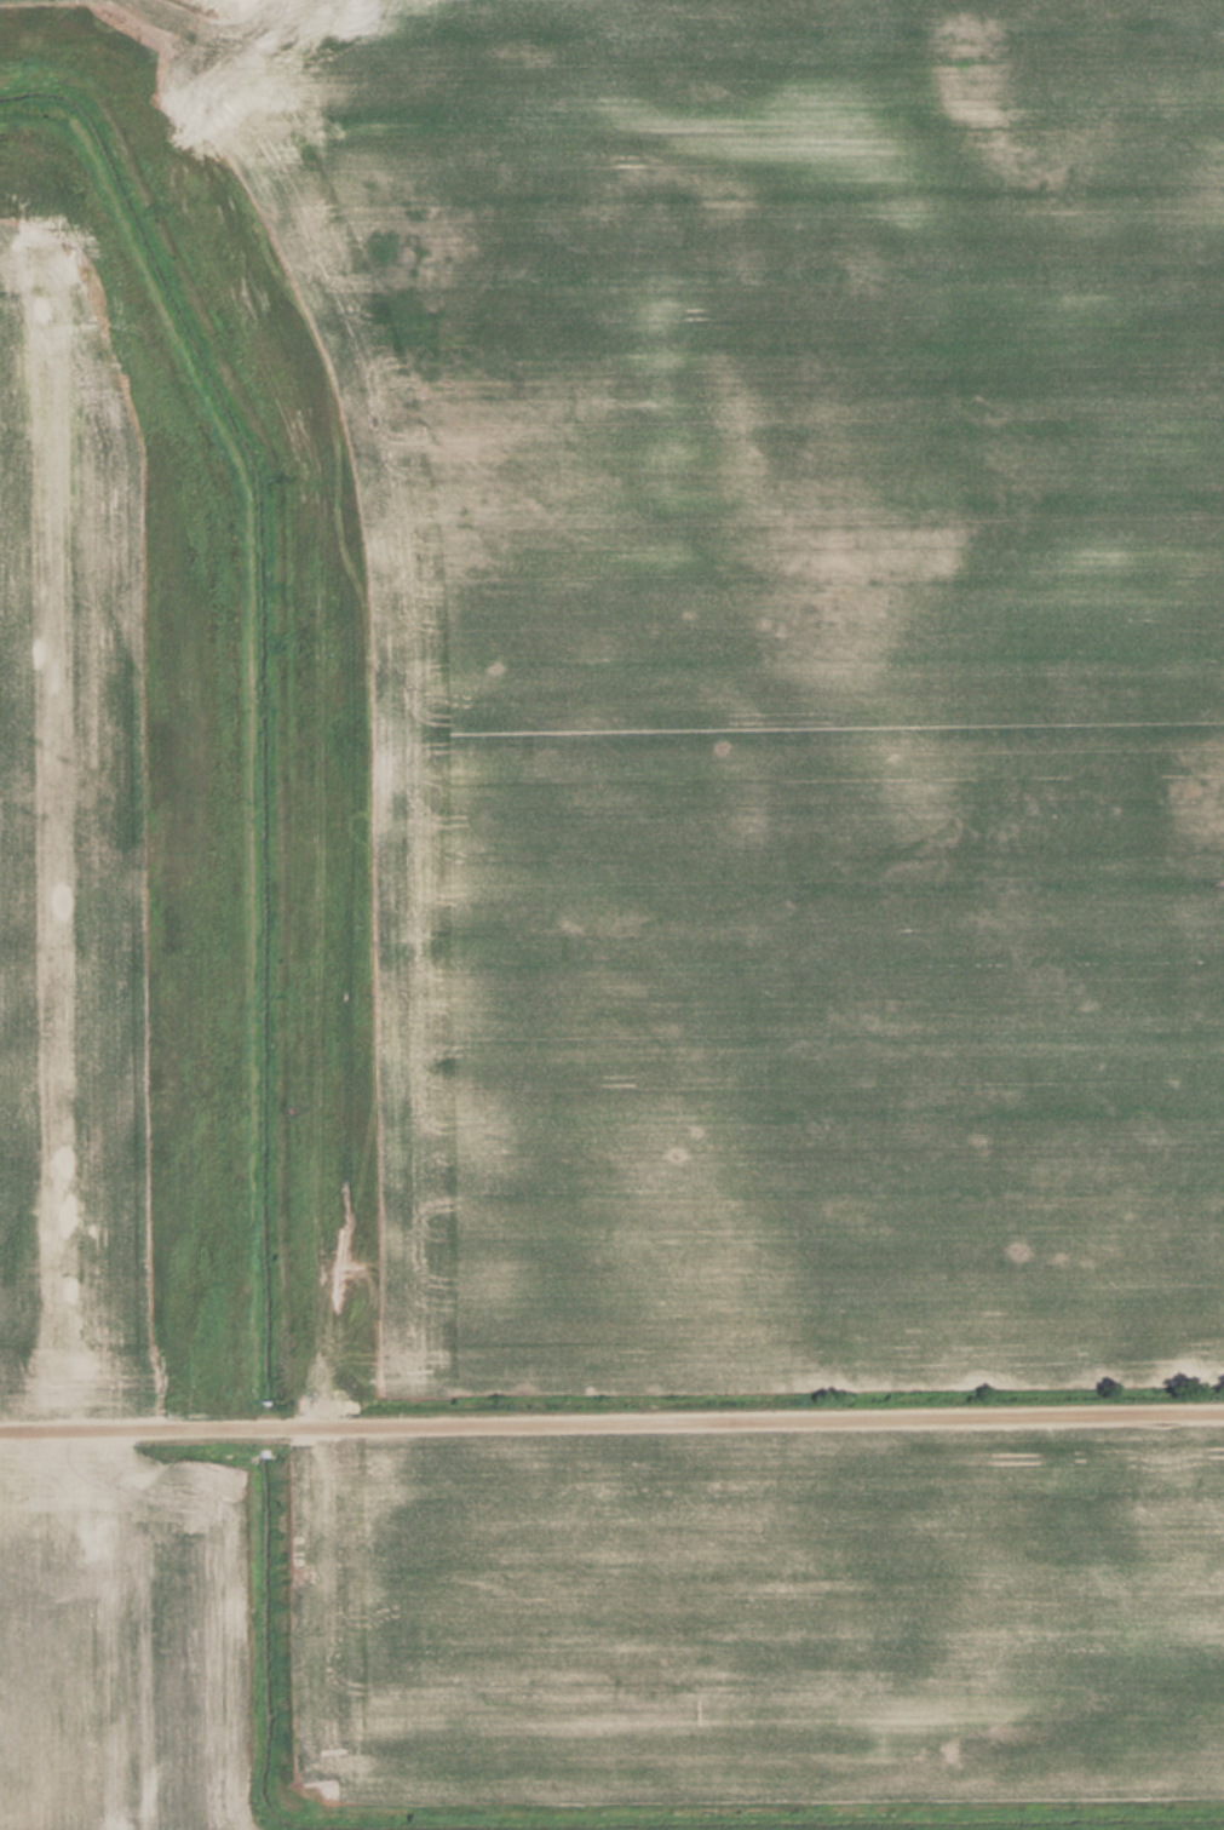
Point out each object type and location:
road: (611, 1427)

